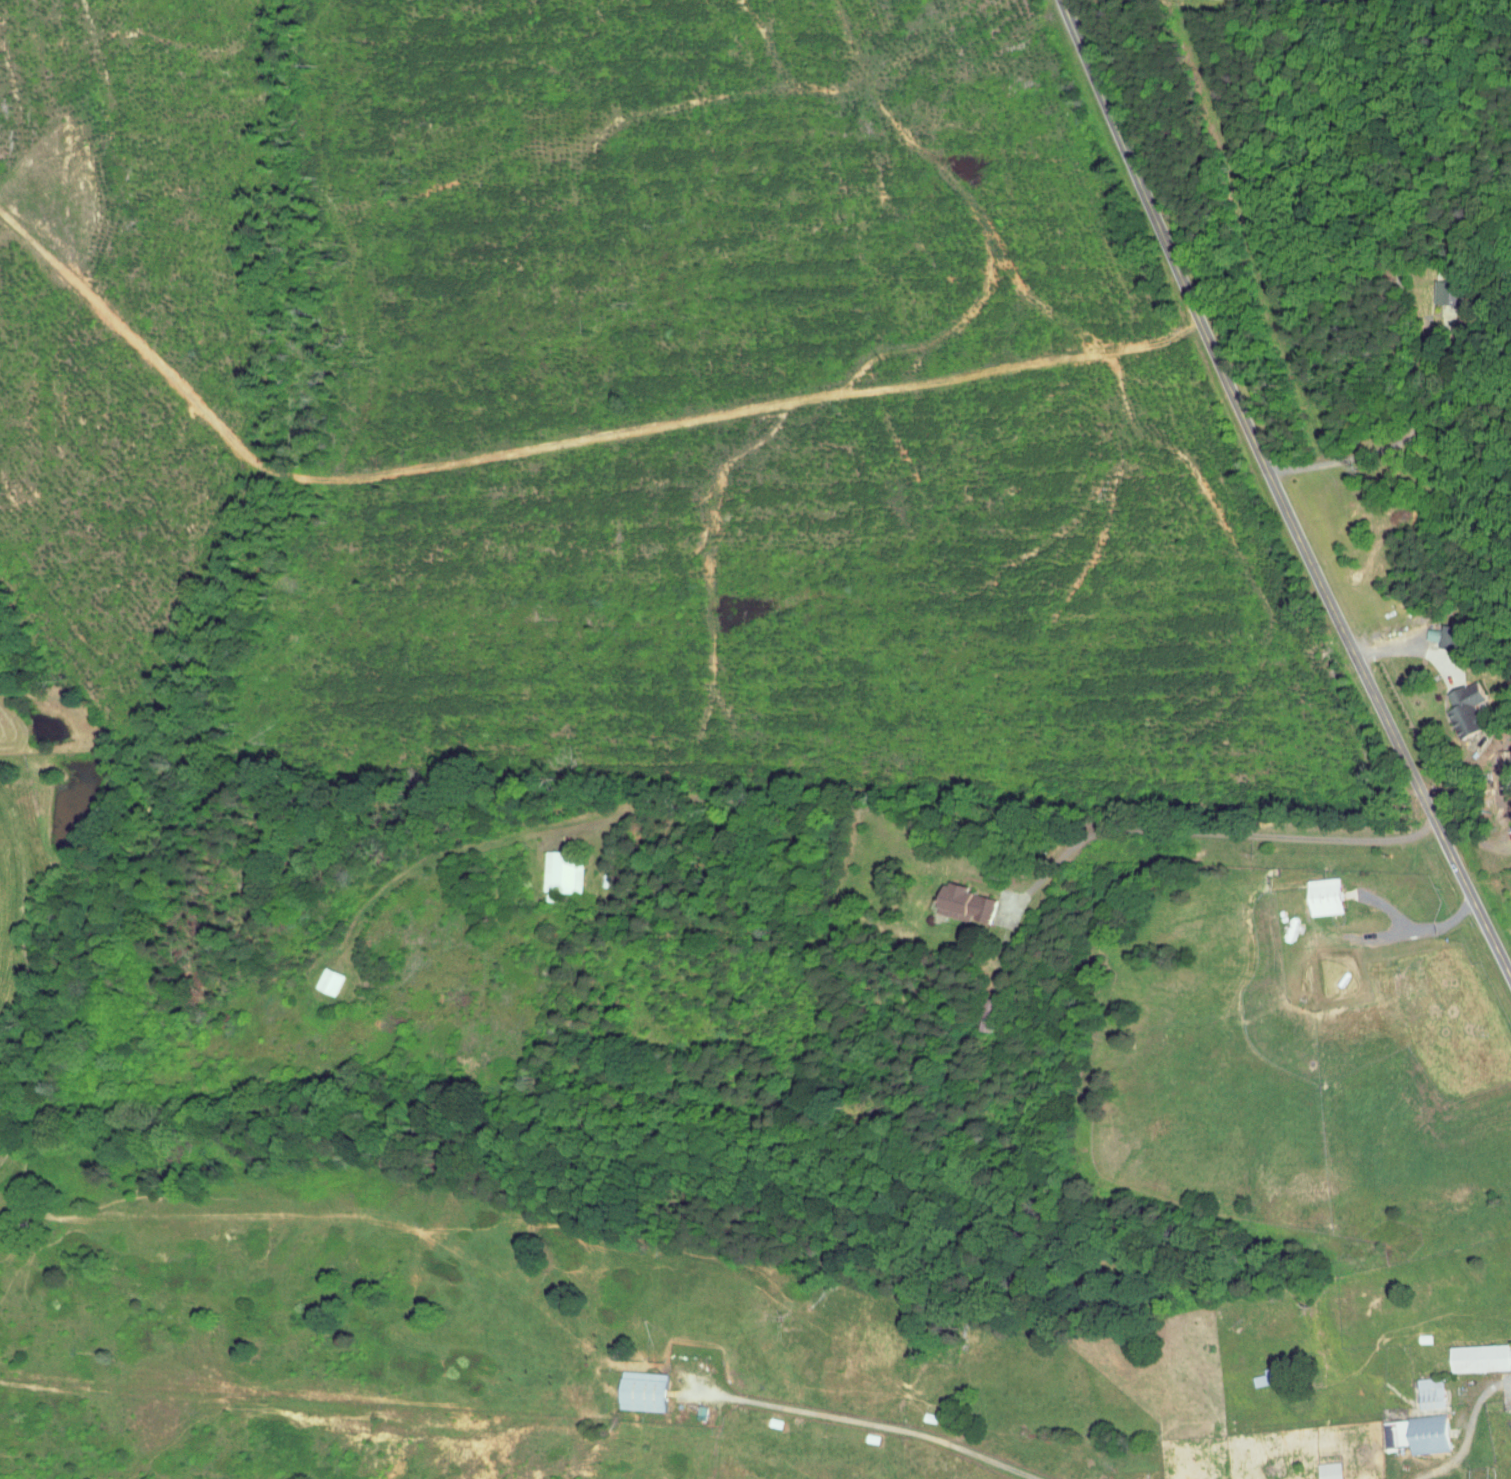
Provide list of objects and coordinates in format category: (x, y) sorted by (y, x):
building: (1447, 291)
road: (1389, 444)
road: (1276, 491)
building: (1446, 636)
road: (1435, 662)
building: (1466, 708)
road: (1222, 832)
building: (562, 872)
building: (1324, 896)
building: (964, 904)
road: (1415, 928)
building: (328, 981)
building: (988, 1015)
building: (1479, 1357)
building: (641, 1390)
building: (1430, 1393)
road: (869, 1422)
road: (1469, 1431)
building: (1417, 1433)
building: (1329, 1470)
building: (1196, 1478)

